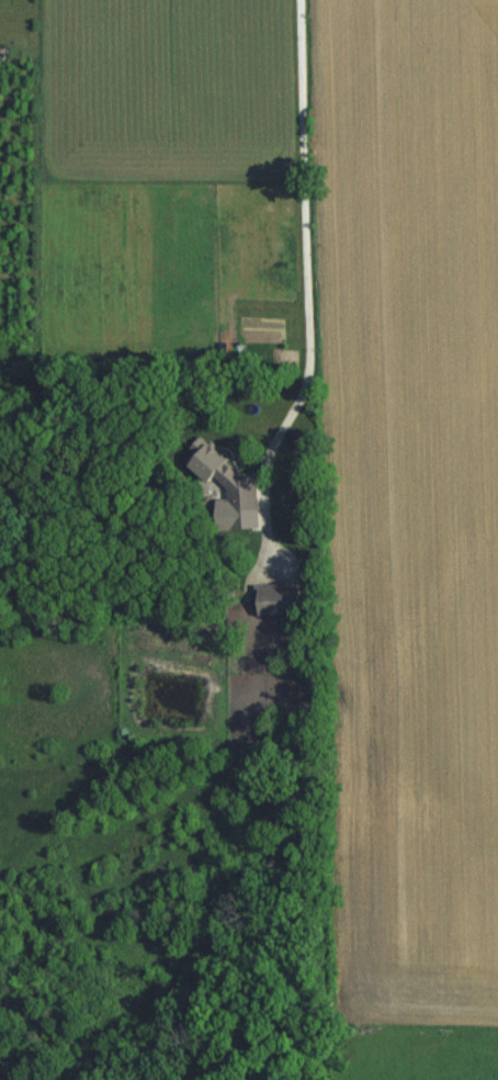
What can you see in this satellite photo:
road: (299, 226)
building: (242, 492)
building: (280, 597)

